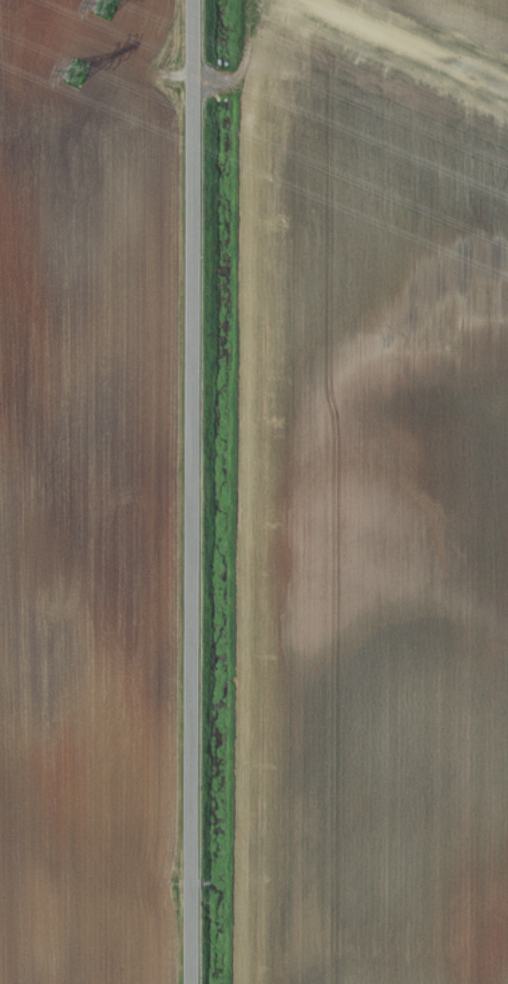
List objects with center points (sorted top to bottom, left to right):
power tower: (107, 0)
power tower: (76, 67)
road: (198, 492)

